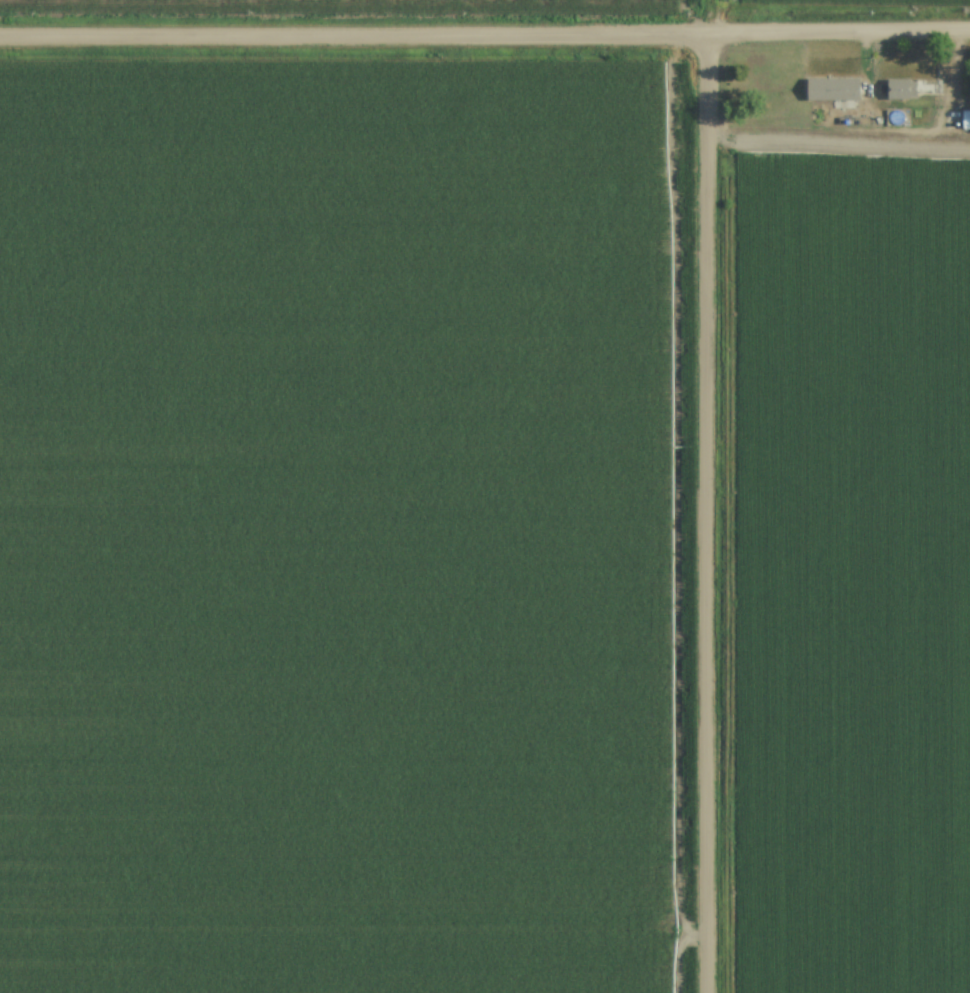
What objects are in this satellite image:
crop: (493, 1)
crop: (849, 2)
road: (485, 34)
building: (833, 87)
building: (900, 88)
building: (965, 119)
road: (872, 131)
road: (708, 513)
crop: (339, 527)
crop: (853, 572)

